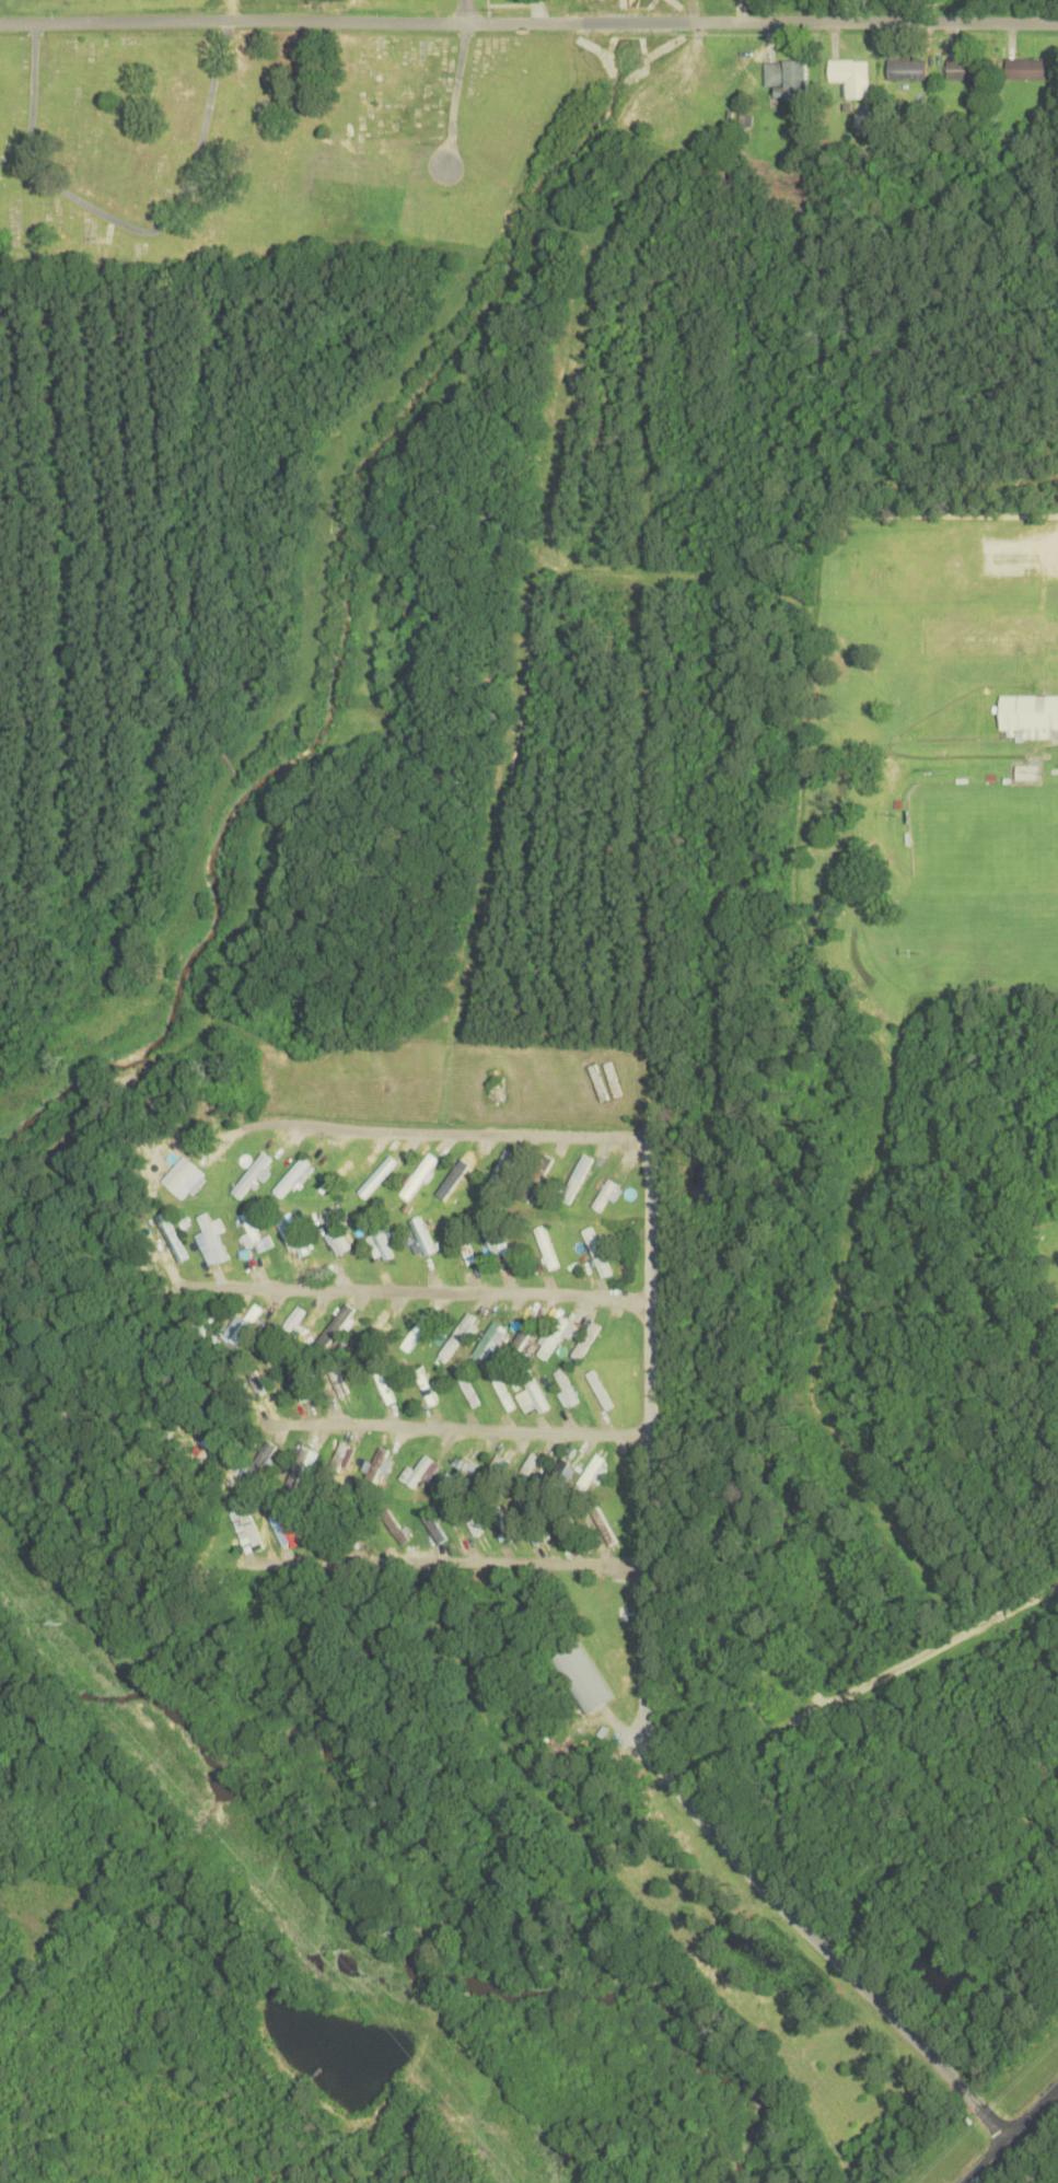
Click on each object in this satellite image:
road: (228, 8)
road: (463, 11)
road: (528, 22)
building: (1025, 69)
building: (907, 70)
building: (965, 70)
building: (853, 77)
building: (787, 78)
road: (452, 92)
road: (124, 221)
building: (1031, 715)
building: (1027, 773)
road: (456, 1130)
building: (252, 1175)
building: (418, 1175)
building: (337, 1176)
building: (577, 1176)
building: (291, 1177)
building: (496, 1177)
building: (535, 1177)
building: (188, 1181)
building: (374, 1181)
building: (699, 1181)
building: (452, 1184)
building: (605, 1195)
building: (211, 1230)
building: (253, 1231)
building: (337, 1231)
building: (295, 1233)
building: (423, 1235)
building: (499, 1235)
building: (172, 1236)
building: (380, 1236)
building: (465, 1242)
building: (547, 1246)
building: (597, 1250)
road: (416, 1290)
building: (248, 1324)
building: (291, 1324)
building: (337, 1325)
building: (416, 1332)
building: (371, 1334)
building: (458, 1336)
building: (520, 1338)
building: (488, 1339)
building: (553, 1339)
building: (586, 1340)
building: (254, 1378)
building: (301, 1383)
building: (385, 1383)
building: (428, 1386)
building: (532, 1386)
building: (566, 1386)
building: (503, 1389)
building: (601, 1389)
building: (469, 1391)
road: (457, 1428)
building: (344, 1452)
building: (374, 1467)
building: (525, 1468)
building: (419, 1472)
building: (491, 1473)
building: (590, 1473)
building: (457, 1476)
building: (555, 1476)
building: (469, 1517)
building: (537, 1521)
building: (504, 1522)
building: (432, 1525)
building: (288, 1526)
building: (394, 1526)
building: (605, 1528)
building: (254, 1533)
road: (446, 1558)
power tower: (61, 1625)
road: (917, 1657)
building: (582, 1677)
building: (769, 1688)
road: (643, 1707)
river: (415, 1876)
power tower: (349, 1950)
road: (1011, 2134)

